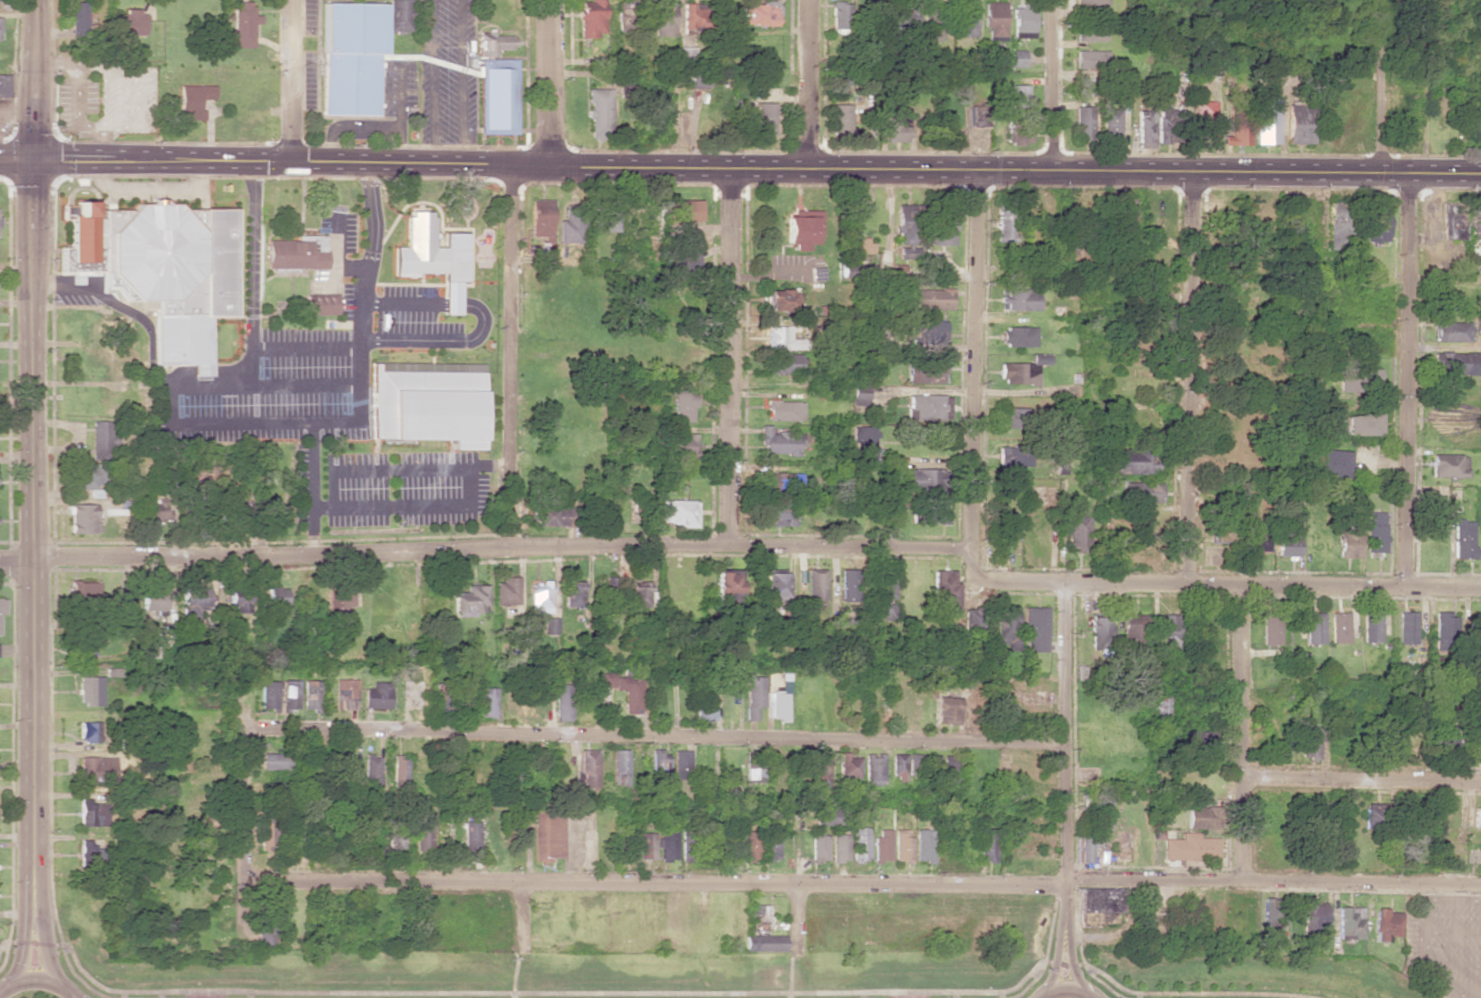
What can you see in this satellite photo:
building: (1090, 2)
building: (399, 15)
building: (626, 15)
building: (758, 15)
building: (839, 17)
building: (870, 17)
building: (591, 18)
building: (689, 18)
building: (661, 19)
building: (964, 19)
building: (78, 20)
building: (995, 20)
building: (1023, 21)
building: (0, 22)
building: (130, 23)
building: (244, 24)
building: (931, 24)
building: (1090, 32)
building: (493, 43)
building: (686, 55)
building: (350, 57)
building: (1018, 58)
building: (1090, 59)
road: (34, 81)
building: (698, 81)
road: (290, 82)
road: (548, 83)
building: (3, 84)
road: (810, 86)
road: (1054, 86)
road: (1382, 87)
building: (496, 96)
building: (193, 100)
building: (597, 113)
building: (1019, 115)
building: (841, 118)
building: (764, 119)
building: (1265, 120)
building: (1082, 123)
building: (1203, 123)
building: (1110, 124)
building: (1297, 125)
building: (896, 126)
building: (1144, 128)
road: (17, 161)
road: (271, 164)
road: (528, 167)
road: (1014, 172)
road: (154, 189)
building: (686, 210)
building: (1124, 215)
building: (603, 218)
building: (540, 220)
building: (1453, 220)
building: (1376, 221)
building: (1004, 223)
building: (943, 226)
building: (1337, 226)
building: (569, 227)
building: (799, 228)
parking lot: (337, 231)
building: (906, 231)
building: (417, 248)
building: (859, 248)
road: (331, 249)
building: (295, 253)
building: (685, 264)
building: (162, 267)
road: (347, 268)
road: (252, 274)
building: (815, 274)
parking lot: (316, 282)
parking lot: (73, 299)
building: (932, 299)
building: (1019, 299)
building: (778, 300)
building: (320, 304)
road: (480, 321)
building: (1477, 327)
building: (1450, 331)
building: (929, 333)
building: (1017, 336)
building: (782, 339)
road: (306, 348)
road: (510, 357)
road: (731, 357)
road: (976, 361)
building: (782, 363)
building: (1457, 363)
building: (925, 372)
building: (1018, 373)
road: (1192, 378)
building: (1357, 379)
road: (1408, 381)
parking lot: (308, 382)
road: (166, 384)
building: (859, 399)
building: (429, 402)
building: (682, 403)
road: (360, 407)
building: (926, 407)
building: (783, 410)
building: (1016, 416)
building: (1360, 424)
building: (99, 440)
building: (778, 442)
building: (862, 442)
building: (682, 446)
building: (924, 449)
building: (1013, 455)
building: (1133, 460)
building: (1330, 462)
building: (1448, 466)
road: (402, 469)
building: (923, 478)
building: (89, 479)
building: (780, 481)
road: (312, 487)
parking lot: (405, 489)
building: (1142, 492)
road: (410, 506)
building: (893, 507)
building: (154, 510)
building: (676, 512)
building: (933, 514)
building: (776, 515)
building: (552, 516)
building: (82, 519)
road: (34, 520)
building: (1004, 526)
building: (1224, 526)
building: (1375, 532)
building: (1077, 533)
building: (1255, 537)
building: (1348, 539)
building: (1463, 539)
building: (1287, 540)
road: (486, 548)
road: (1212, 583)
building: (814, 584)
building: (770, 585)
building: (848, 585)
building: (724, 586)
building: (83, 590)
building: (506, 592)
building: (572, 593)
building: (945, 593)
building: (638, 594)
building: (881, 594)
building: (539, 596)
building: (276, 597)
building: (471, 601)
building: (341, 602)
building: (153, 603)
building: (193, 603)
building: (239, 604)
building: (2, 606)
building: (972, 620)
building: (1445, 624)
building: (550, 625)
building: (1477, 625)
building: (1007, 627)
building: (1339, 627)
building: (1372, 627)
building: (1314, 628)
building: (1407, 628)
building: (1271, 629)
building: (1034, 630)
building: (1135, 630)
building: (1100, 631)
building: (1167, 632)
building: (84, 645)
building: (623, 689)
building: (90, 690)
building: (268, 694)
building: (289, 694)
building: (310, 694)
building: (345, 694)
building: (377, 695)
building: (753, 696)
building: (442, 697)
building: (561, 702)
building: (487, 703)
building: (704, 704)
building: (776, 704)
building: (1157, 708)
building: (949, 710)
road: (1242, 731)
building: (89, 732)
road: (657, 736)
building: (1199, 741)
building: (1436, 741)
building: (1310, 742)
road: (1065, 747)
building: (753, 757)
building: (275, 761)
building: (658, 763)
building: (680, 764)
building: (618, 767)
building: (848, 767)
building: (899, 767)
building: (94, 769)
building: (585, 769)
building: (874, 769)
building: (948, 769)
building: (513, 770)
building: (370, 772)
building: (399, 773)
building: (820, 774)
road: (1362, 777)
road: (248, 781)
building: (92, 813)
building: (1371, 816)
building: (826, 817)
building: (1200, 817)
building: (1476, 817)
building: (1100, 822)
building: (422, 830)
building: (471, 834)
building: (265, 836)
building: (548, 836)
building: (395, 840)
building: (860, 844)
building: (667, 845)
building: (727, 845)
building: (760, 845)
building: (881, 845)
building: (923, 845)
building: (985, 845)
building: (625, 846)
building: (646, 846)
building: (689, 846)
building: (902, 846)
building: (1083, 847)
building: (818, 848)
building: (839, 848)
building: (88, 849)
building: (1190, 849)
road: (865, 884)
building: (1100, 900)
building: (1272, 911)
building: (1312, 916)
road: (525, 918)
building: (760, 919)
building: (1349, 923)
road: (797, 924)
building: (268, 925)
building: (1386, 925)
road: (23, 937)
road: (44, 937)
building: (765, 944)
road: (1056, 957)
road: (1069, 958)
road: (33, 979)
road: (1066, 990)
road: (658, 991)
road: (70, 994)
road: (71, 994)

